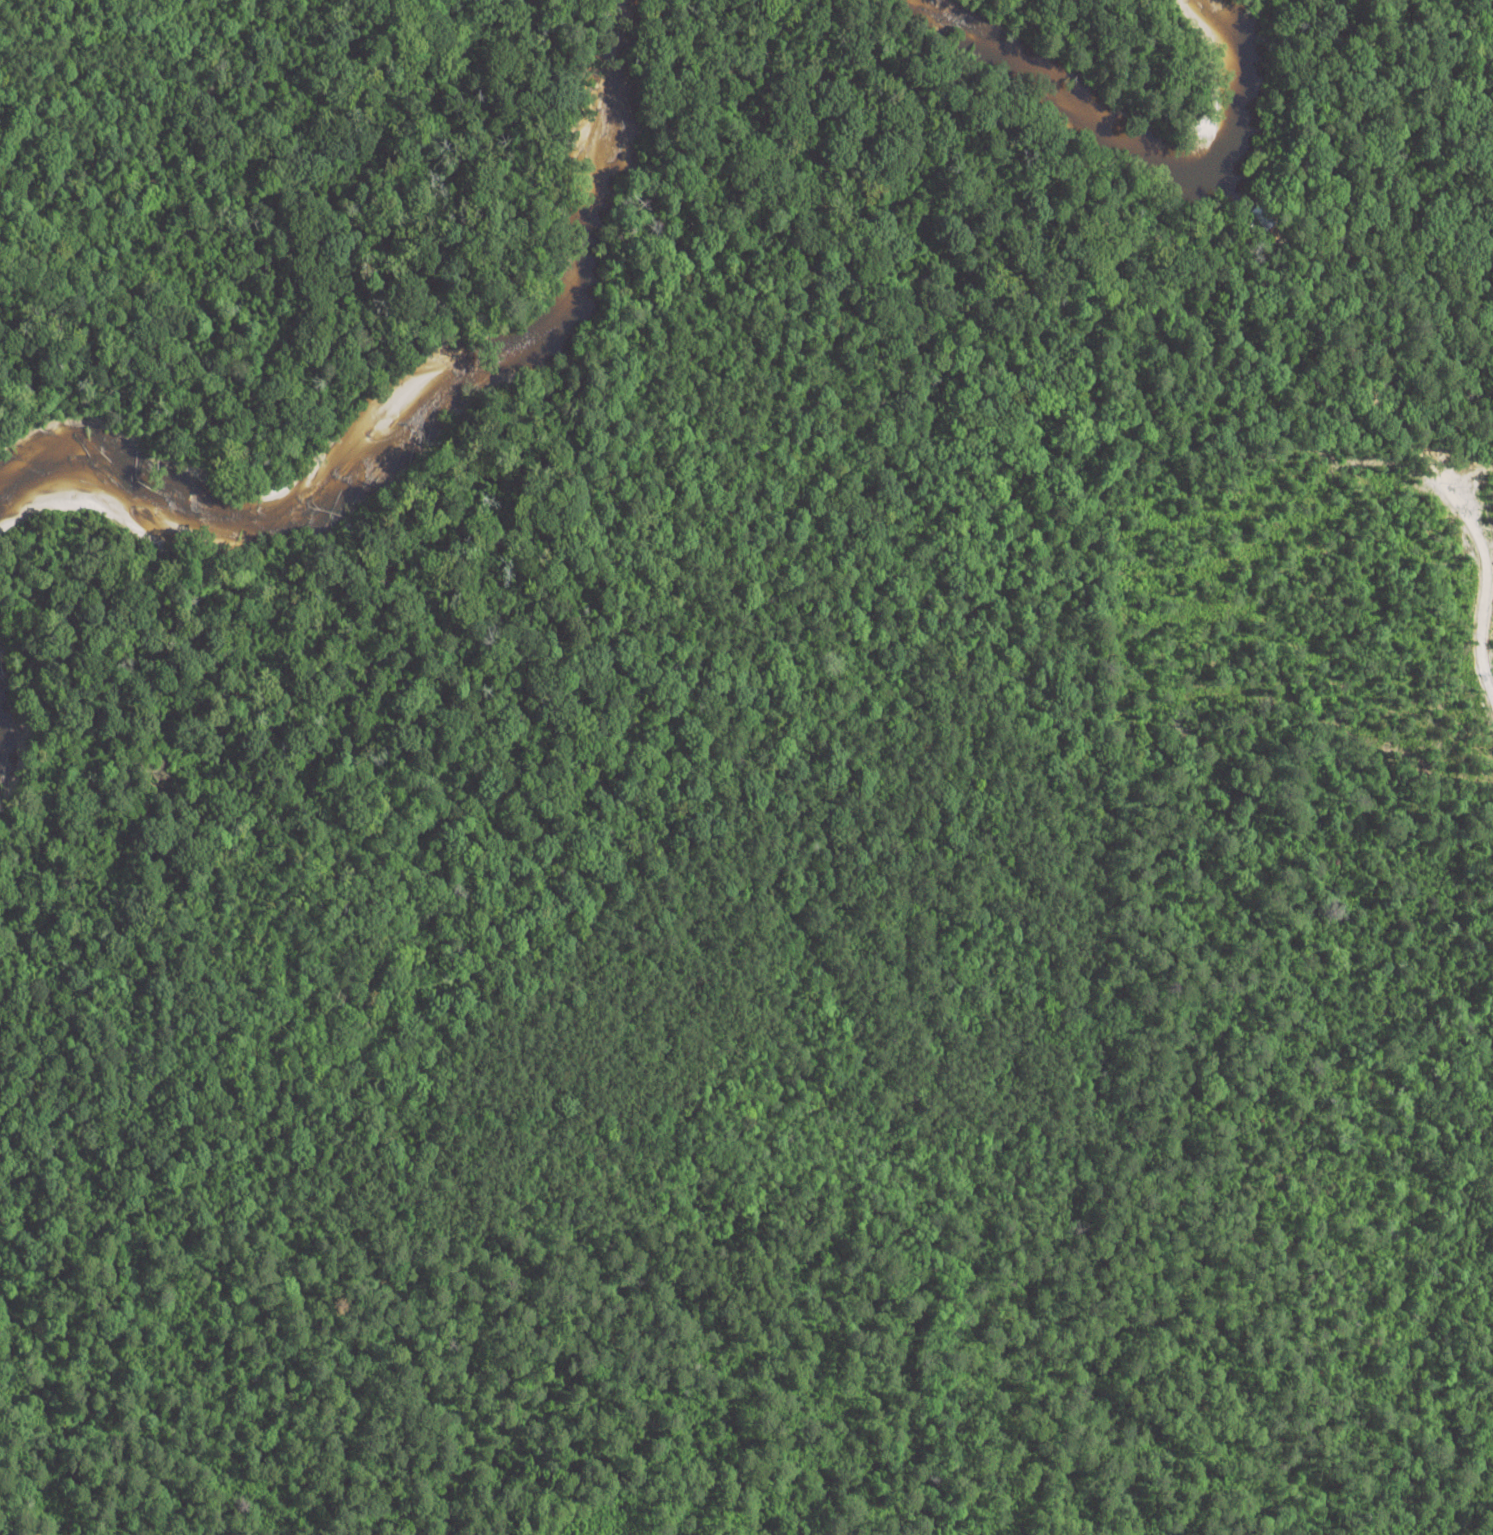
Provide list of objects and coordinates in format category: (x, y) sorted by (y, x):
river: (1137, 152)
river: (425, 408)
road: (1476, 537)

